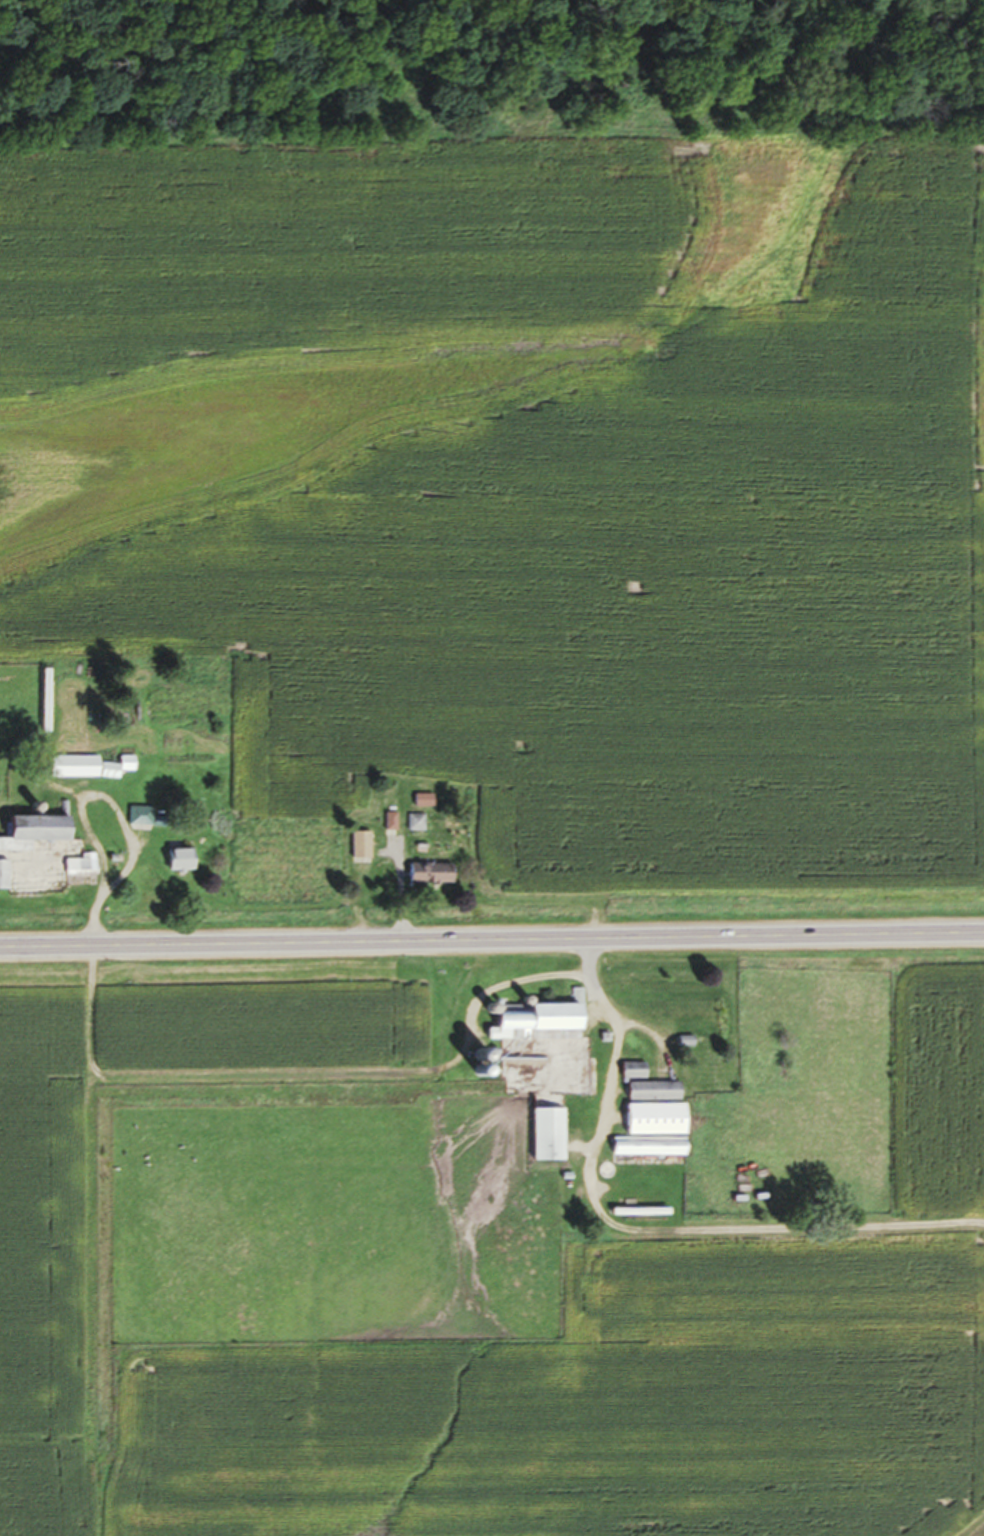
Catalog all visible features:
building: (85, 772)
building: (142, 822)
building: (414, 827)
building: (30, 836)
building: (359, 850)
building: (178, 865)
building: (77, 870)
building: (428, 878)
building: (2, 879)
road: (492, 943)
building: (679, 1012)
building: (534, 1027)
building: (631, 1075)
building: (651, 1096)
building: (650, 1136)
building: (546, 1139)
road: (643, 1237)

